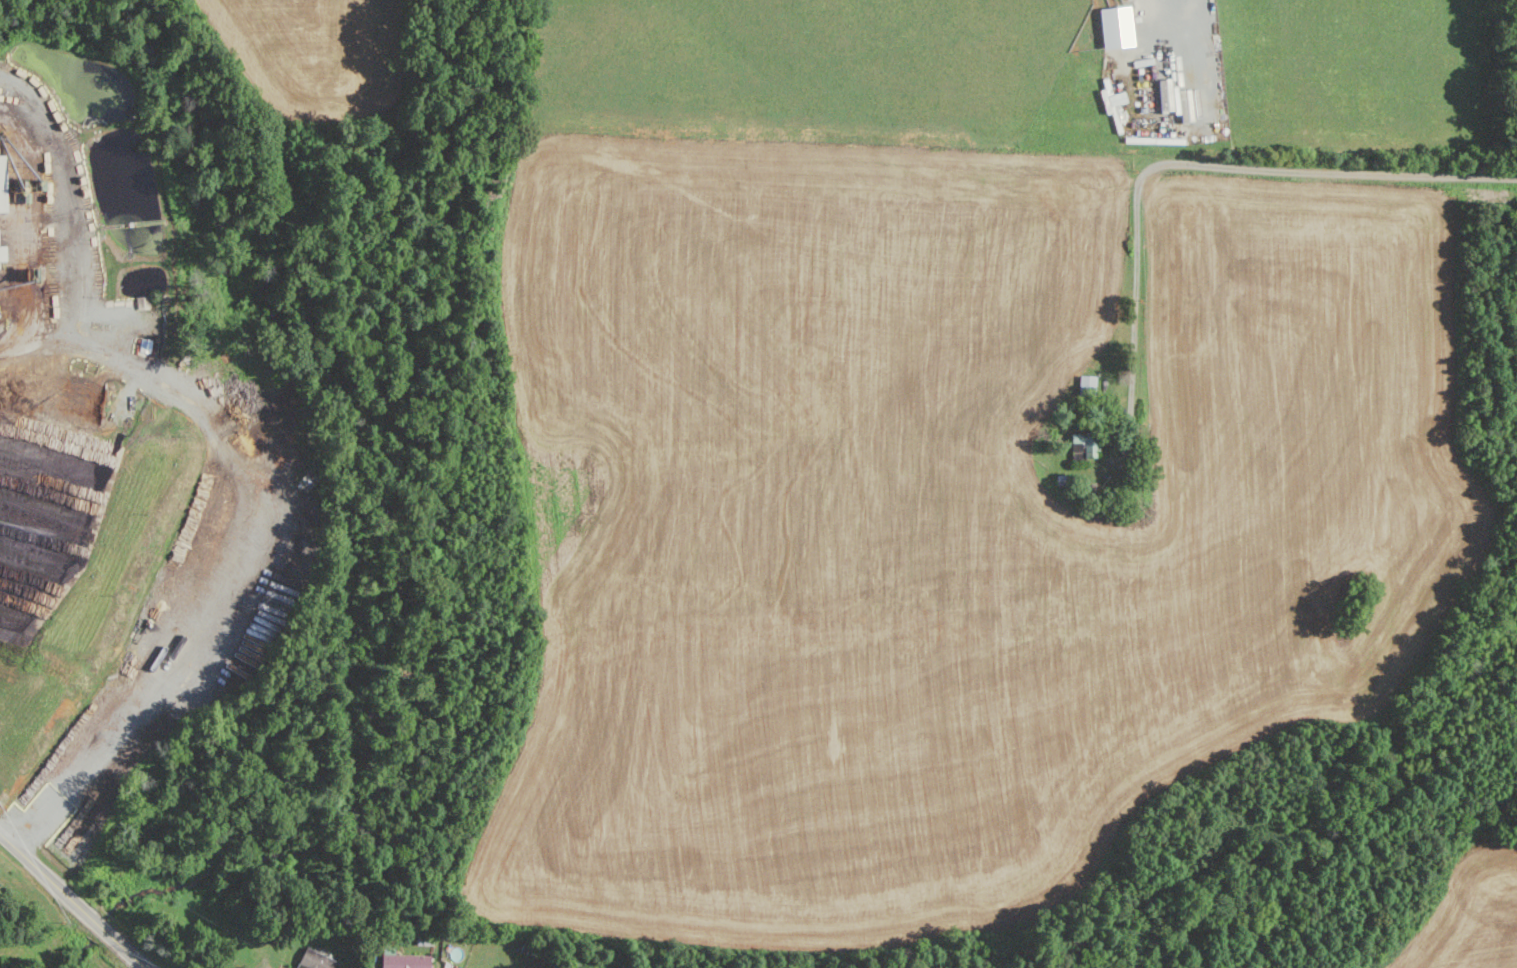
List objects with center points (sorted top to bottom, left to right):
building: (1117, 26)
building: (1117, 98)
road: (1190, 164)
road: (66, 195)
building: (3, 202)
building: (2, 251)
building: (1087, 383)
building: (1089, 445)
road: (254, 551)
road: (71, 900)
building: (312, 959)
building: (405, 961)

